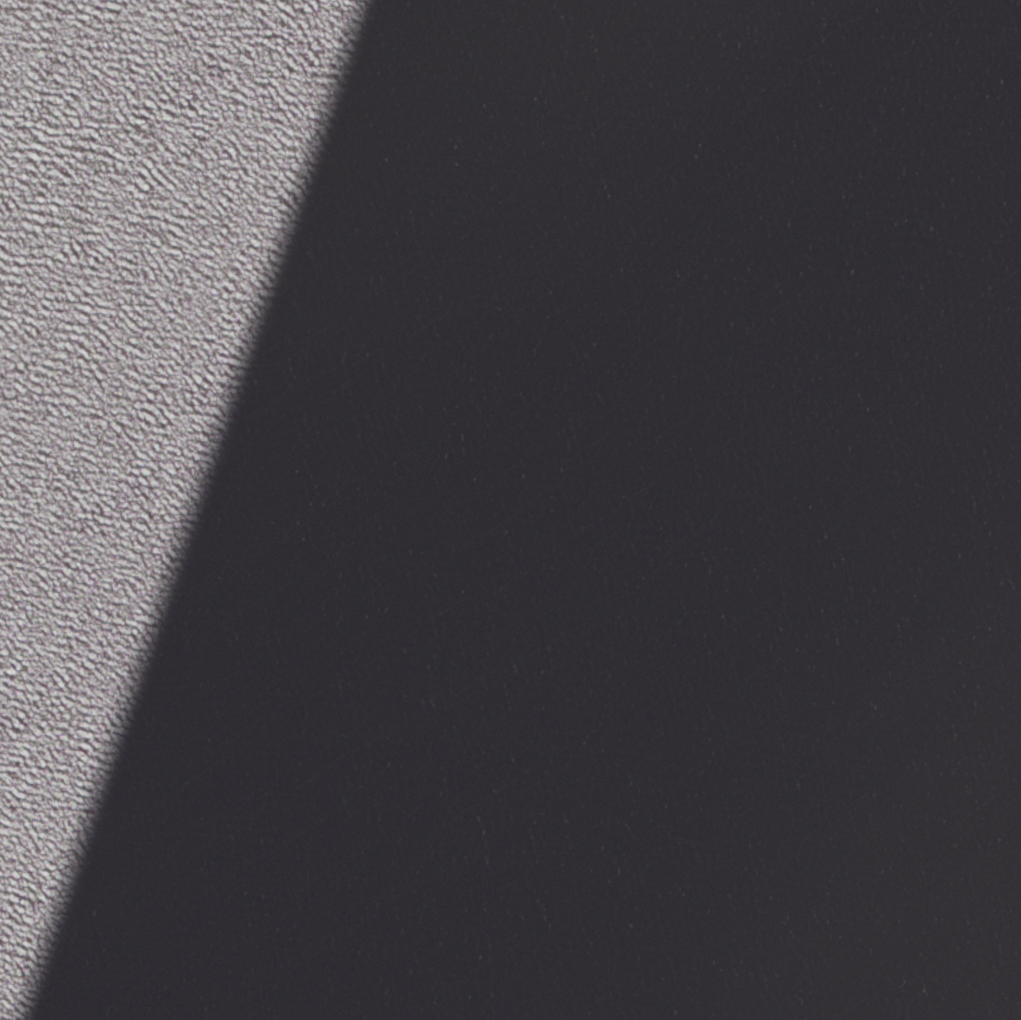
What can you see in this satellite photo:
river: (972, 910)

